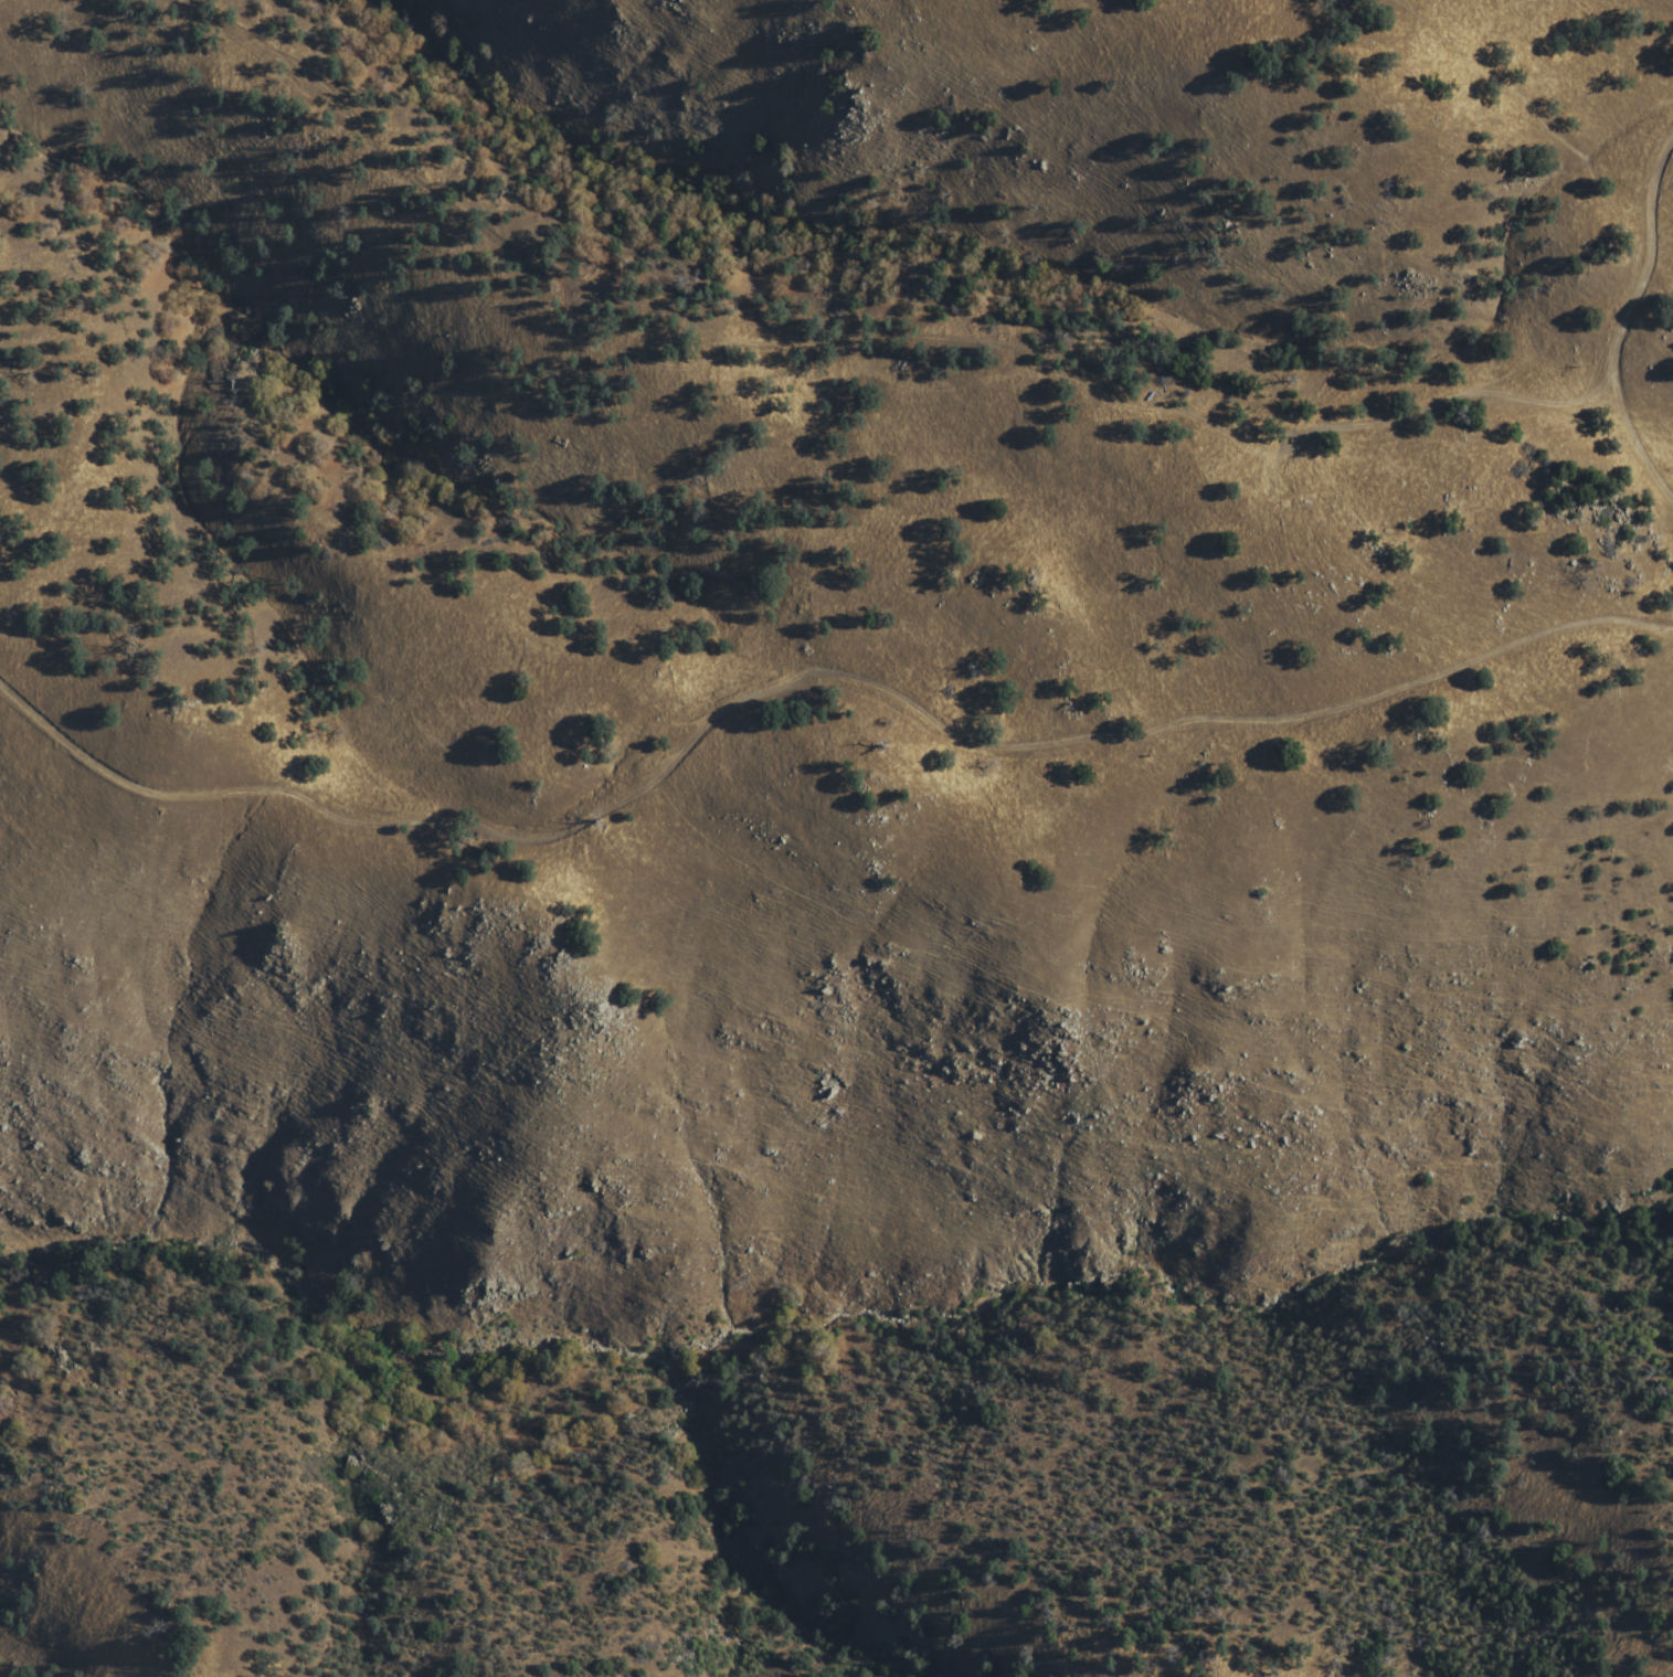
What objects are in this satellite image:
road: (1640, 357)
road: (811, 670)

